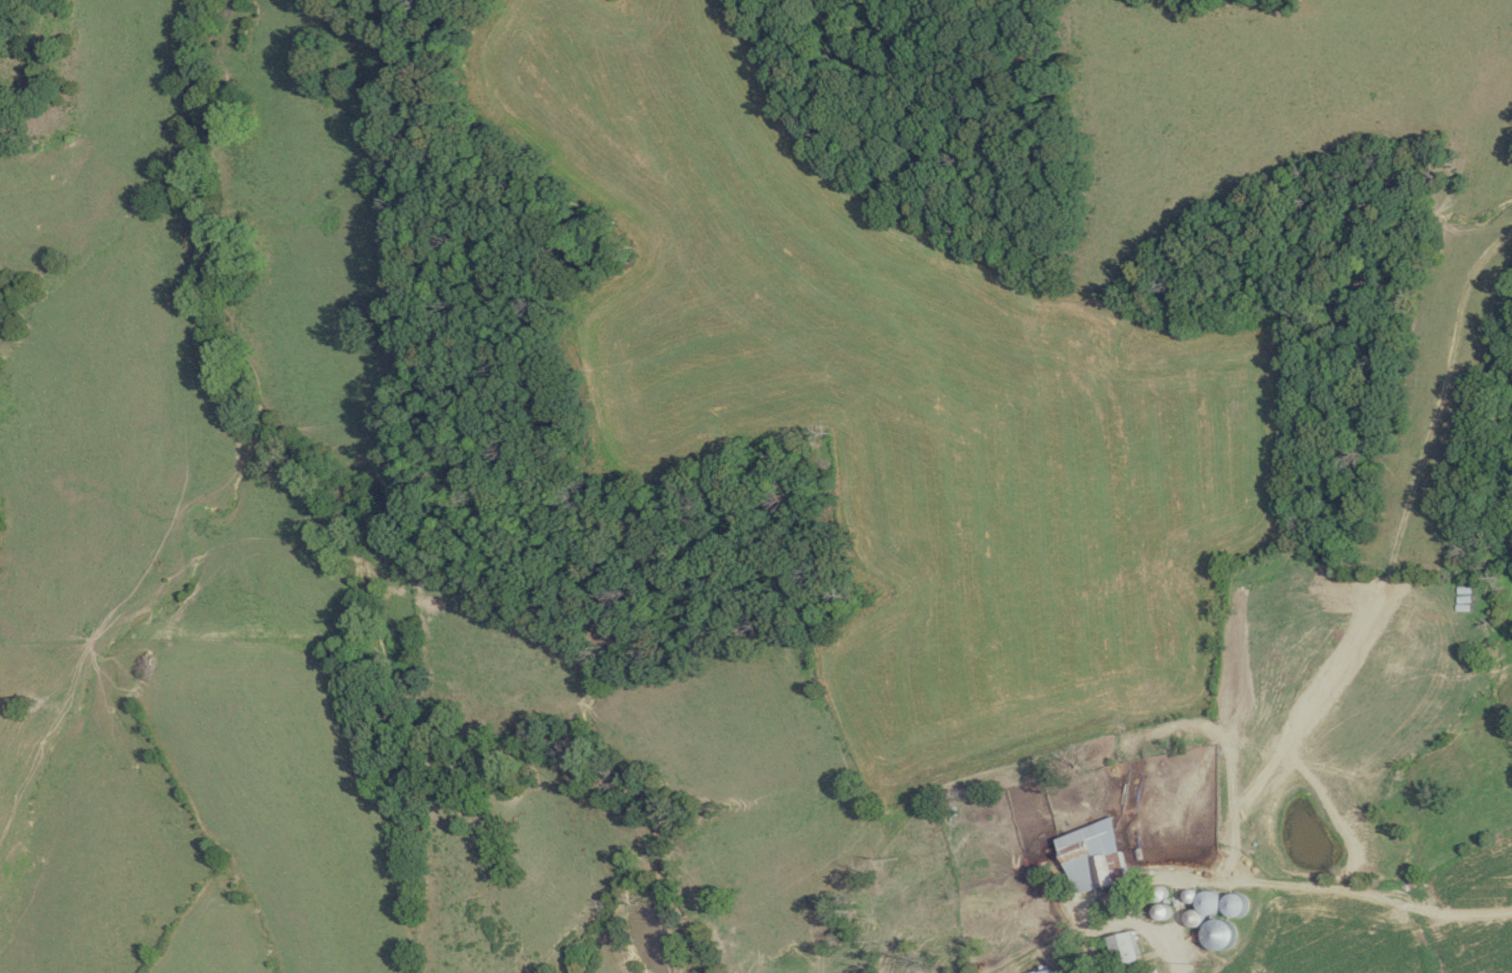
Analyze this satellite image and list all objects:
building: (1098, 852)
building: (1196, 915)
road: (1070, 923)
road: (1129, 923)
road: (1076, 936)
building: (1128, 948)
building: (1047, 971)

